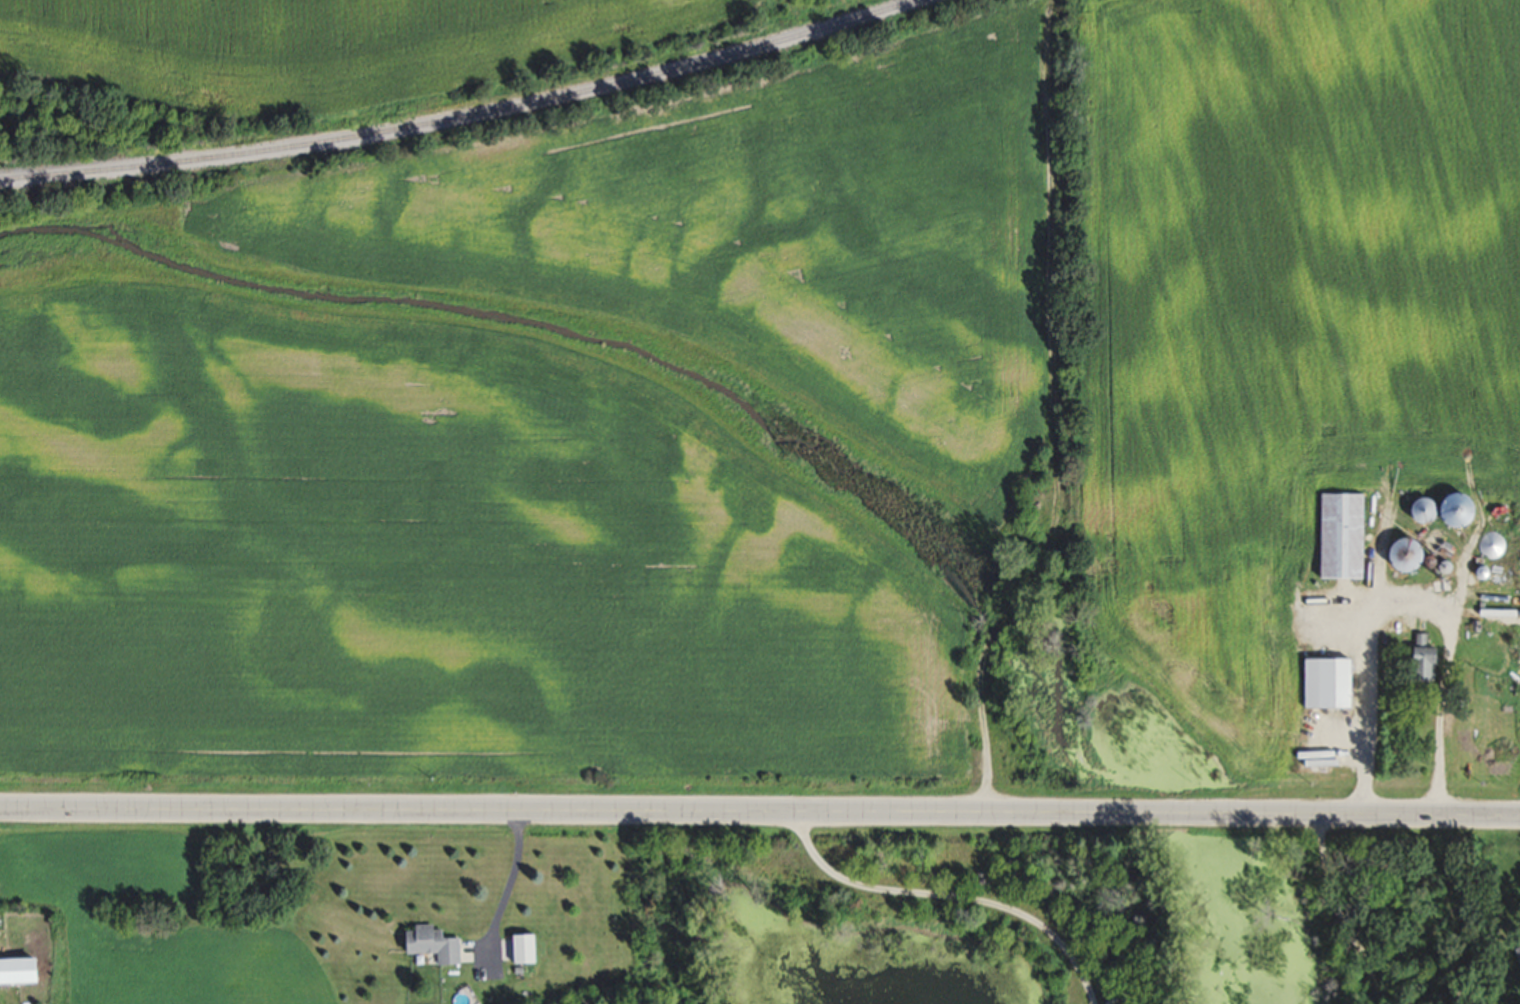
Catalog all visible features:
railway: (460, 115)
building: (1438, 511)
building: (1336, 537)
building: (1402, 555)
building: (1497, 598)
road: (1408, 607)
building: (1417, 666)
building: (1324, 684)
road: (760, 820)
road: (509, 885)
road: (953, 897)
road: (1341, 916)
building: (437, 944)
building: (1519, 947)
building: (29, 971)

